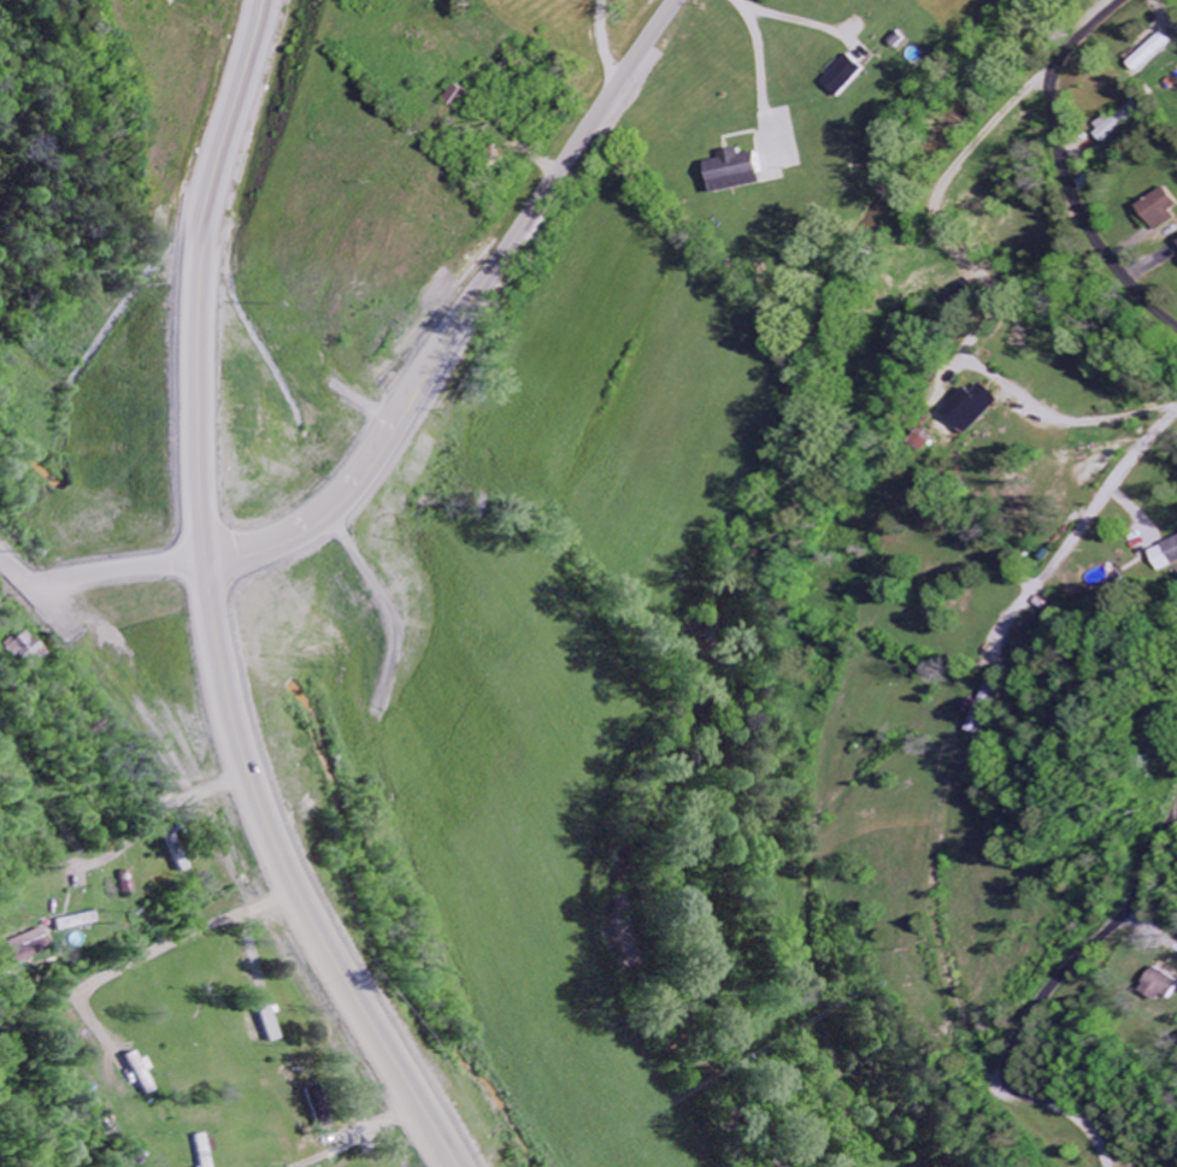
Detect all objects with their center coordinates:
building: (1148, 53)
building: (847, 76)
building: (1114, 120)
building: (745, 171)
road: (1060, 171)
building: (1164, 210)
road: (987, 306)
road: (465, 311)
building: (975, 407)
road: (1114, 466)
building: (1166, 556)
road: (95, 572)
road: (214, 607)
building: (22, 649)
building: (169, 850)
building: (120, 883)
building: (69, 923)
road: (1153, 926)
building: (23, 948)
building: (1167, 984)
road: (1043, 1000)
building: (265, 1025)
building: (135, 1073)
building: (317, 1108)
building: (196, 1150)

